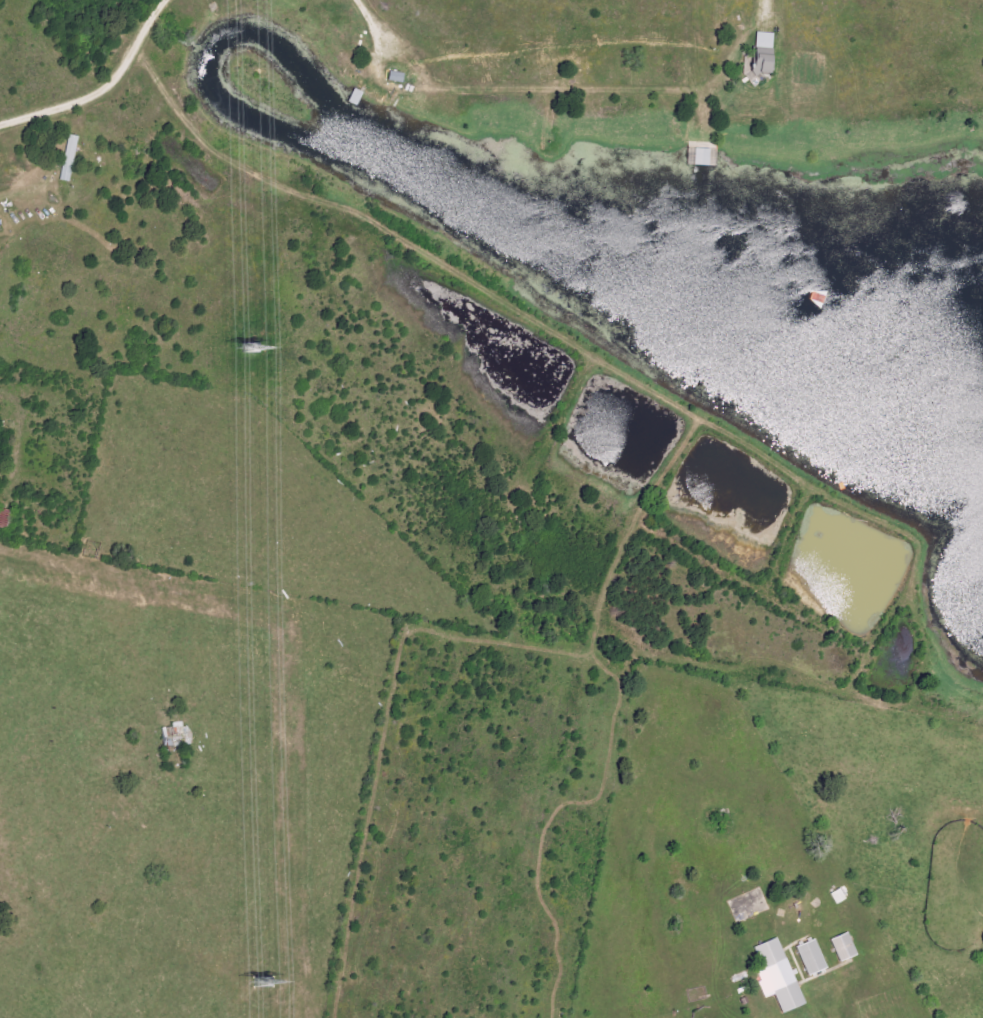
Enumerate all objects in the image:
building: (760, 54)
building: (702, 157)
building: (68, 158)
power tower: (250, 347)
building: (843, 947)
building: (810, 957)
building: (777, 976)
power tower: (265, 981)

